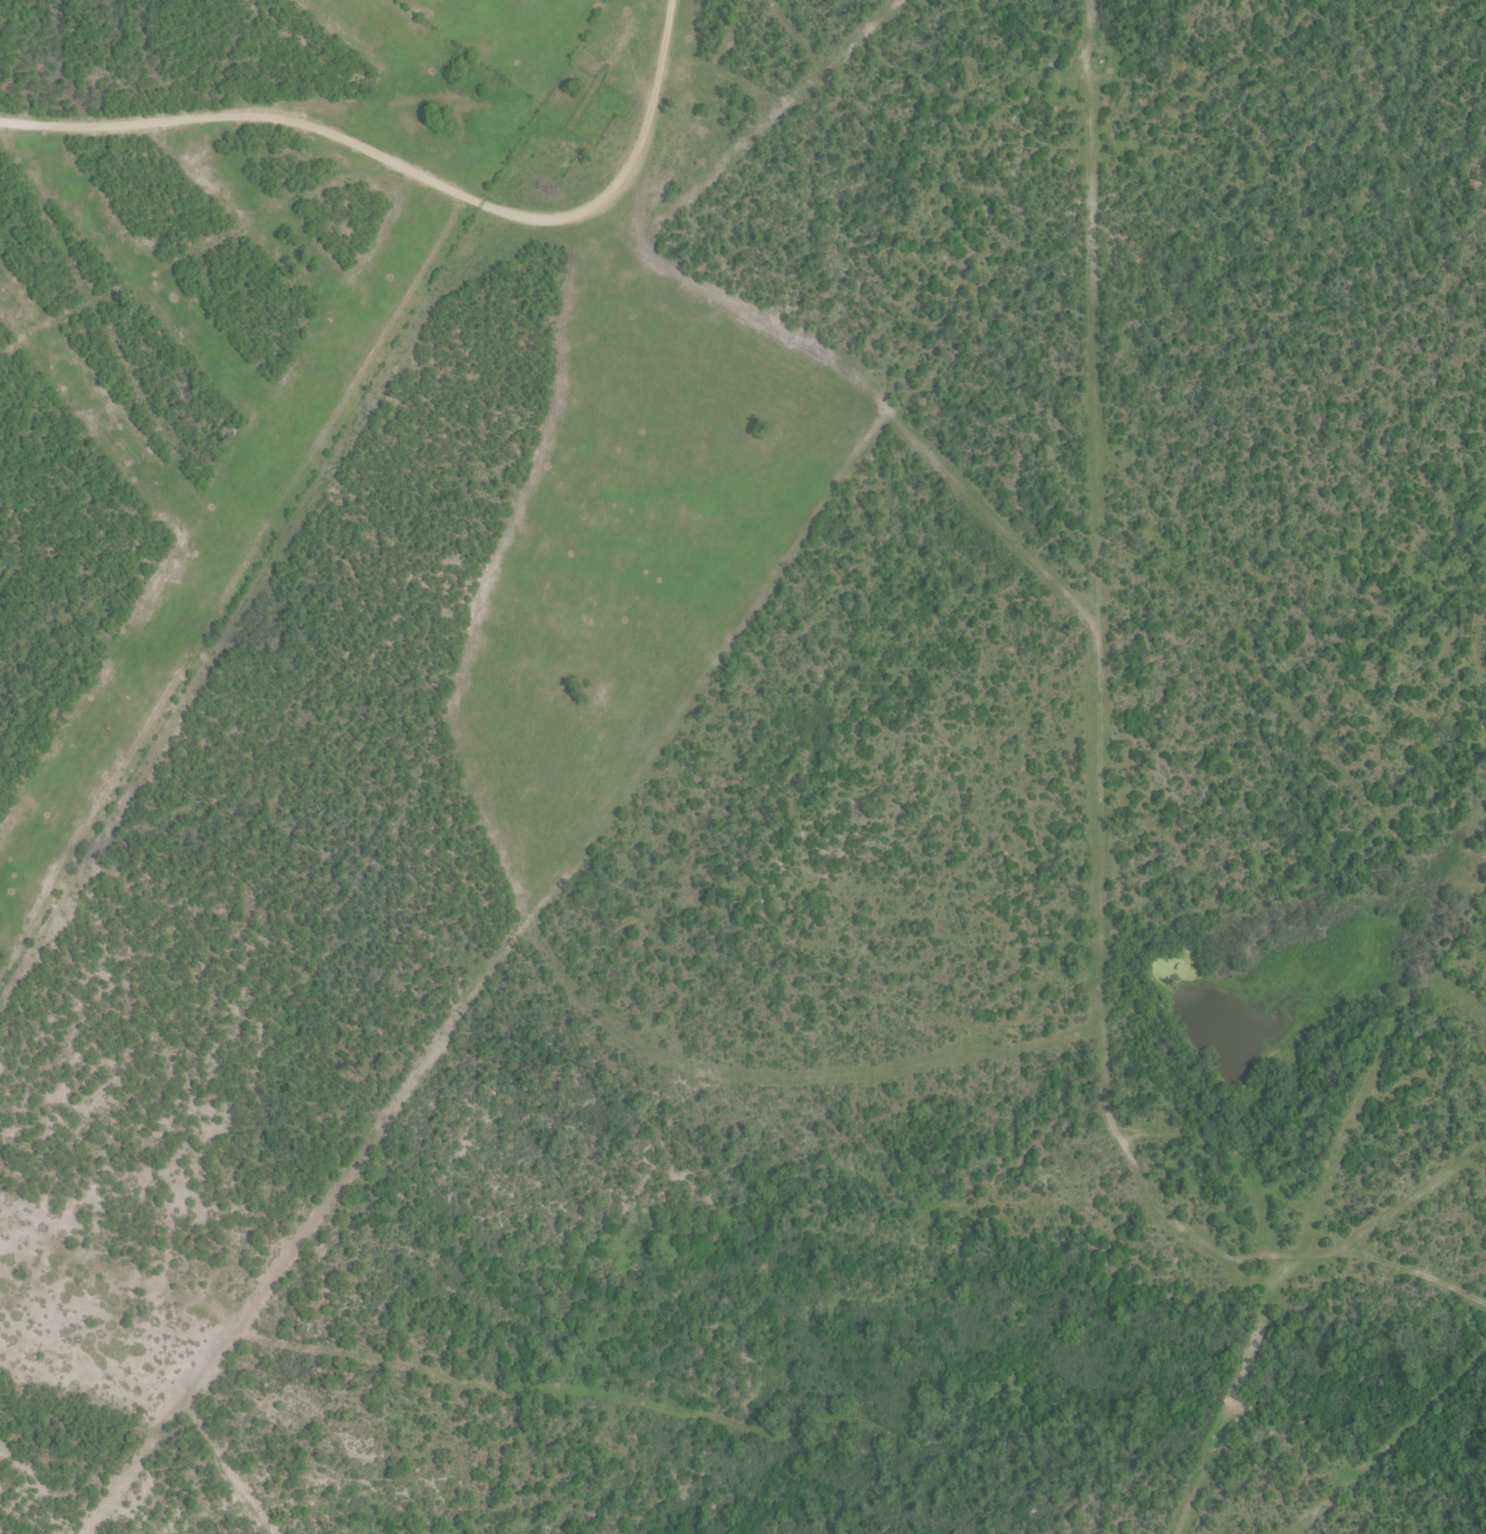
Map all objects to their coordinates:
road: (416, 167)

